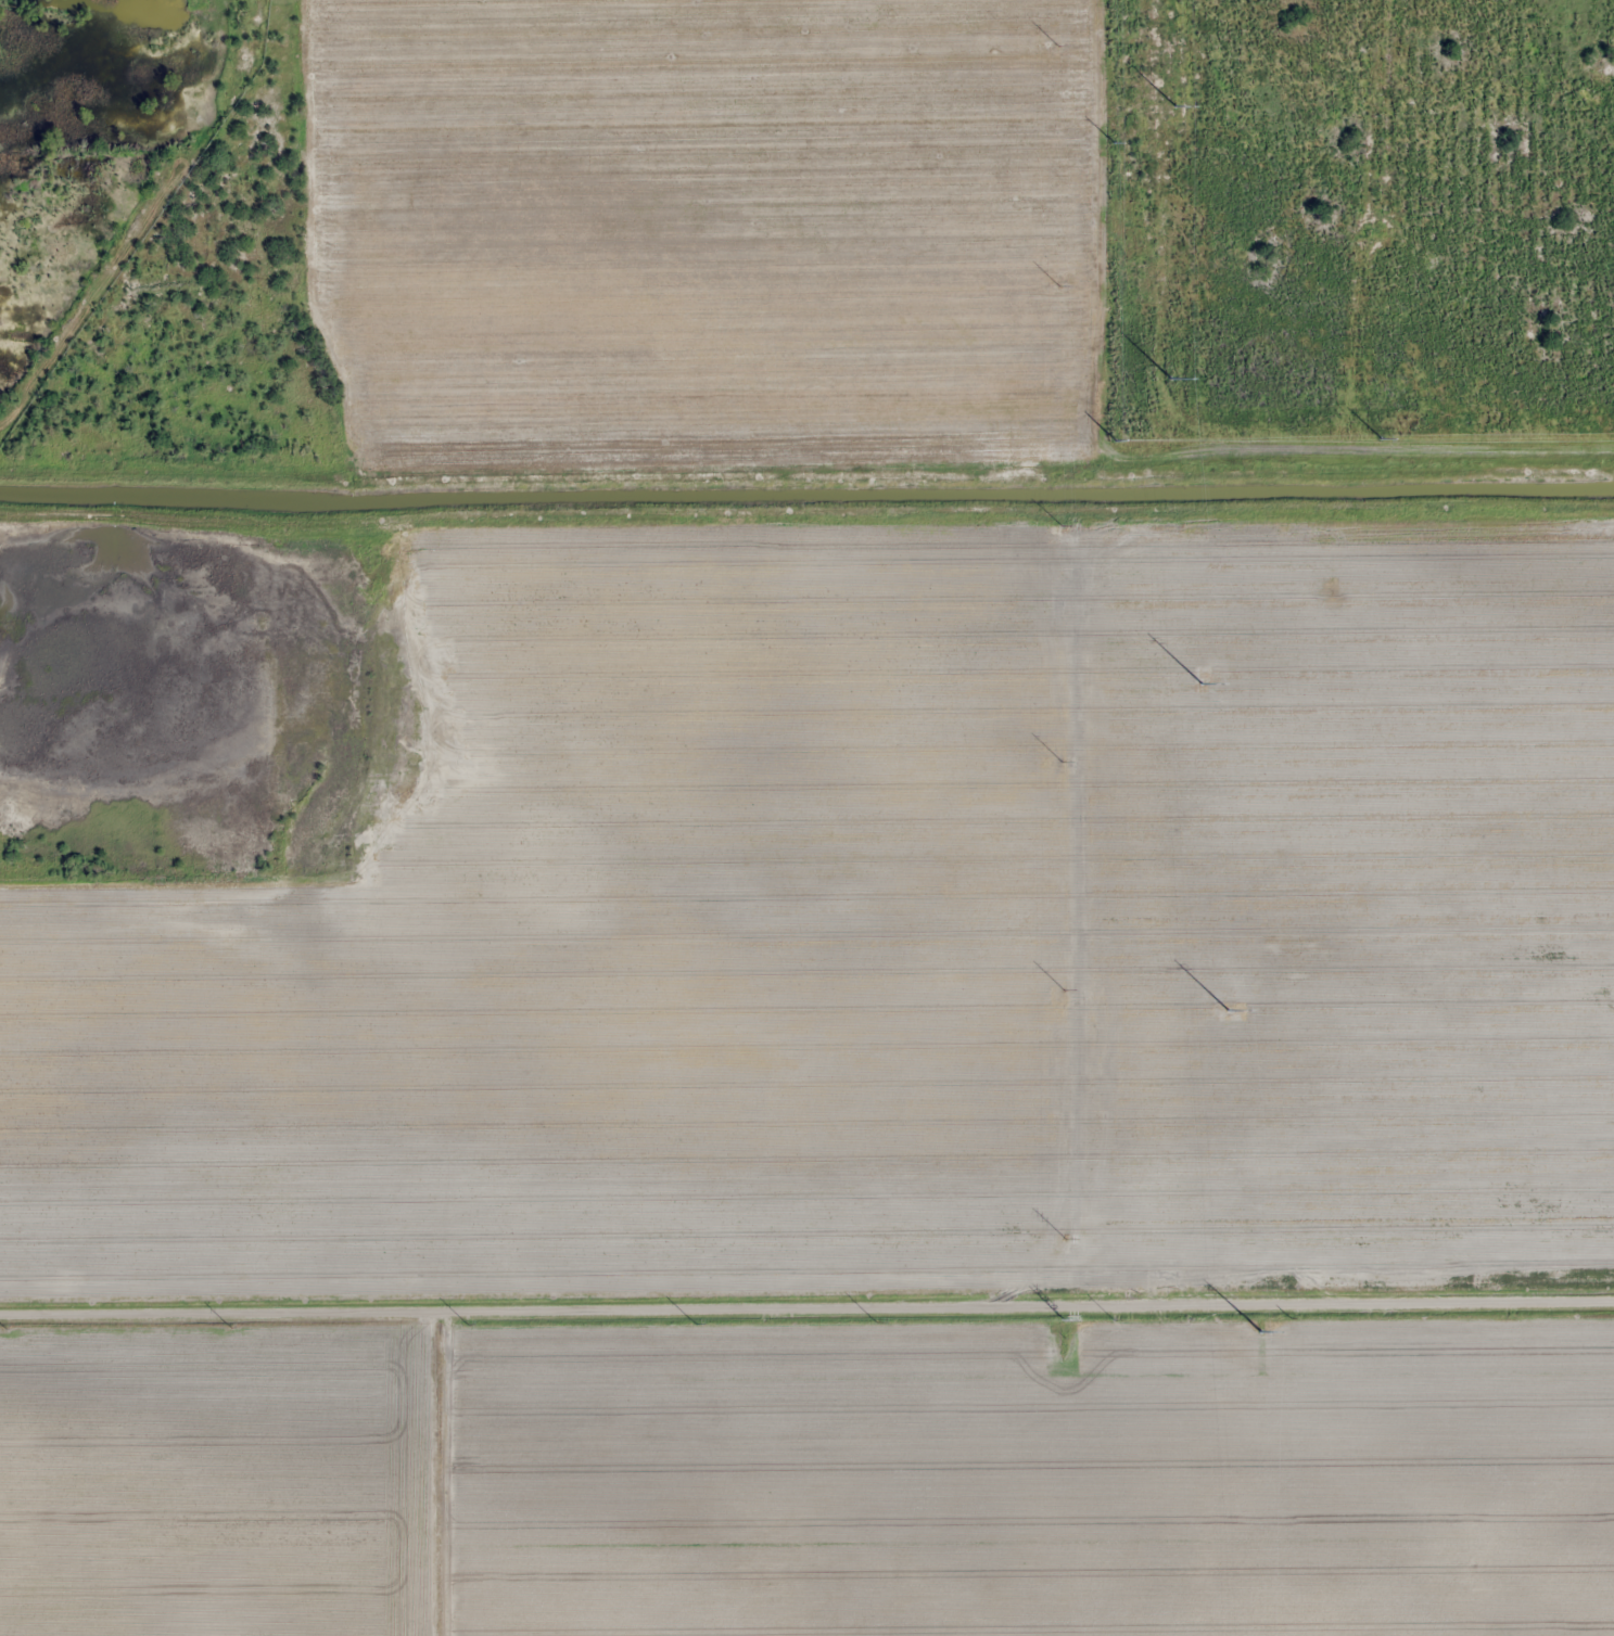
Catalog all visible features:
power tower: (1374, 230)
road: (282, 286)
power tower: (1331, 593)
power tower: (1292, 956)
road: (806, 1289)
power tower: (1064, 1319)
power tower: (1254, 1331)
road: (432, 1464)

